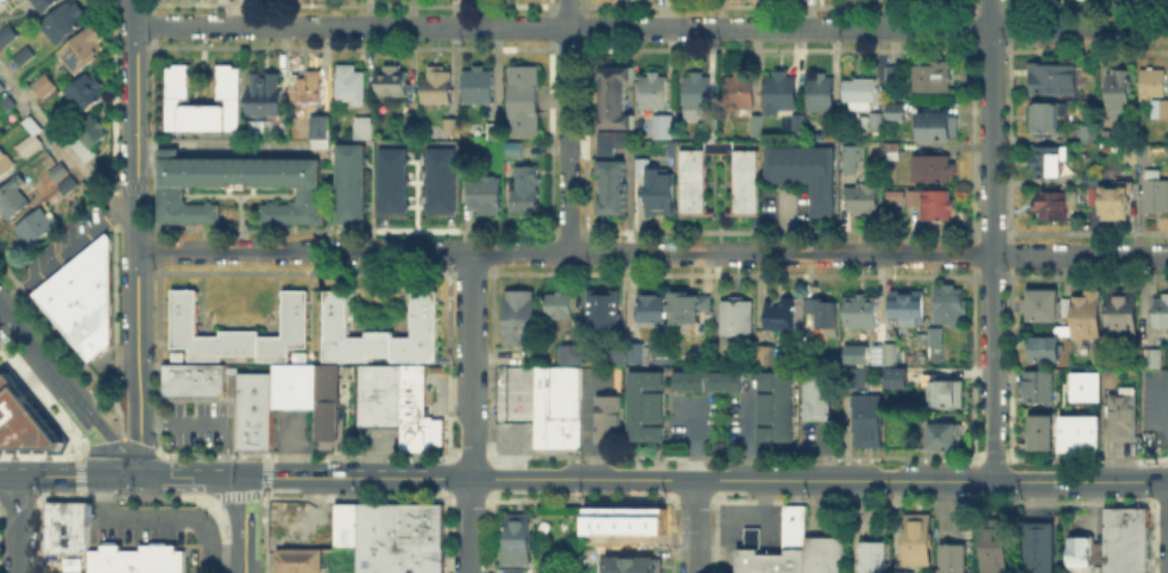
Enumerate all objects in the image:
building: (1044, 0)
building: (4, 4)
building: (45, 5)
building: (68, 23)
road: (651, 27)
building: (6, 33)
building: (86, 50)
building: (26, 58)
building: (889, 75)
building: (895, 76)
building: (933, 78)
building: (389, 80)
building: (1054, 81)
building: (176, 82)
building: (347, 83)
building: (476, 83)
building: (434, 84)
building: (304, 86)
building: (46, 87)
building: (1, 88)
building: (1120, 90)
building: (783, 92)
building: (1155, 92)
building: (263, 93)
building: (656, 93)
building: (741, 93)
building: (822, 93)
building: (87, 94)
building: (699, 95)
building: (863, 95)
building: (615, 97)
building: (520, 99)
building: (7, 105)
building: (897, 113)
building: (1046, 120)
building: (412, 121)
building: (876, 122)
building: (360, 126)
road: (568, 126)
building: (448, 127)
building: (939, 127)
building: (33, 128)
building: (492, 128)
building: (667, 130)
building: (318, 131)
building: (93, 132)
building: (833, 133)
building: (614, 141)
road: (63, 147)
building: (894, 152)
building: (848, 157)
building: (1144, 157)
building: (1048, 163)
building: (5, 164)
building: (933, 170)
building: (804, 171)
building: (437, 178)
building: (390, 180)
building: (349, 182)
building: (690, 183)
building: (657, 187)
building: (523, 188)
building: (613, 188)
building: (481, 193)
building: (169, 194)
building: (14, 196)
building: (1155, 196)
building: (863, 200)
building: (1113, 201)
building: (934, 206)
building: (1053, 207)
building: (39, 223)
road: (137, 238)
road: (991, 240)
road: (652, 253)
road: (58, 258)
building: (81, 296)
building: (557, 303)
building: (1040, 303)
building: (907, 304)
building: (948, 304)
building: (1063, 306)
building: (649, 307)
building: (686, 307)
building: (600, 308)
building: (859, 309)
building: (1119, 309)
building: (1160, 309)
building: (777, 311)
building: (1085, 311)
building: (821, 313)
building: (733, 314)
building: (518, 316)
building: (1059, 328)
building: (236, 329)
building: (377, 330)
building: (933, 334)
building: (920, 336)
building: (1043, 347)
road: (33, 348)
building: (633, 351)
building: (889, 352)
building: (569, 353)
building: (766, 353)
building: (854, 353)
building: (176, 354)
building: (297, 354)
building: (617, 354)
building: (1150, 357)
building: (715, 359)
road: (473, 365)
building: (856, 374)
building: (895, 376)
building: (191, 378)
building: (1086, 378)
building: (1109, 378)
building: (707, 379)
building: (291, 384)
building: (1035, 384)
building: (942, 390)
building: (378, 392)
building: (514, 392)
building: (1086, 392)
building: (253, 393)
building: (816, 395)
building: (323, 401)
building: (553, 401)
building: (645, 404)
building: (775, 407)
building: (416, 410)
building: (1120, 413)
road: (1162, 416)
building: (607, 417)
building: (867, 418)
building: (26, 420)
road: (182, 422)
building: (1034, 430)
building: (1046, 430)
building: (253, 432)
building: (569, 432)
building: (1065, 432)
building: (1078, 432)
building: (1092, 432)
building: (937, 434)
road: (101, 435)
road: (749, 437)
road: (695, 440)
road: (291, 446)
road: (99, 447)
road: (223, 449)
road: (512, 452)
road: (70, 476)
traffic signals: (141, 477)
road: (192, 477)
traffic signals: (245, 478)
road: (359, 478)
road: (820, 480)
road: (943, 506)
road: (168, 517)
road: (245, 518)
building: (1123, 520)
road: (747, 521)
building: (343, 522)
building: (361, 523)
building: (377, 523)
building: (391, 523)
building: (405, 523)
building: (419, 523)
building: (434, 523)
road: (19, 524)
building: (793, 524)
building: (65, 525)
road: (472, 525)
road: (694, 525)
parking lot: (135, 534)
building: (750, 536)
building: (516, 537)
building: (915, 537)
building: (1037, 546)
building: (992, 547)
building: (1123, 553)
building: (822, 554)
building: (1082, 554)
building: (871, 556)
building: (156, 558)
building: (952, 558)
building: (108, 559)
building: (296, 559)
building: (397, 559)
building: (769, 560)
building: (631, 563)
road: (245, 566)
building: (512, 569)
building: (901, 572)

